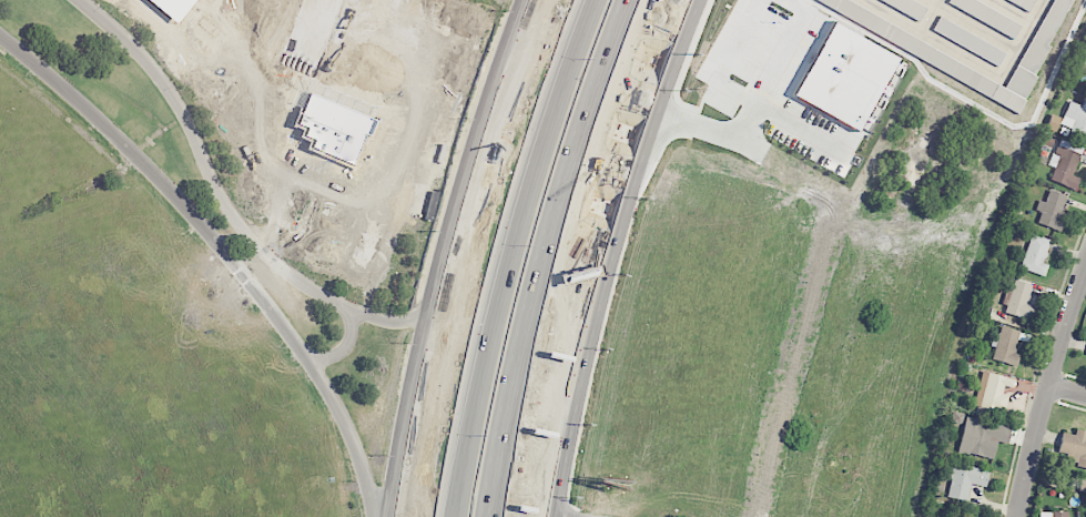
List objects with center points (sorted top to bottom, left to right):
building: (1024, 3)
building: (907, 6)
building: (987, 16)
building: (970, 41)
road: (497, 97)
road: (512, 98)
building: (1075, 120)
road: (747, 121)
road: (315, 125)
building: (1065, 163)
road: (230, 202)
building: (1052, 210)
road: (224, 250)
road: (508, 252)
road: (547, 254)
road: (593, 254)
road: (609, 254)
building: (1036, 254)
road: (479, 255)
building: (1018, 297)
building: (1006, 345)
road: (347, 351)
road: (428, 355)
road: (1047, 386)
road: (1067, 387)
building: (993, 391)
building: (982, 437)
building: (1074, 446)
building: (965, 480)
building: (1053, 514)
building: (963, 516)

